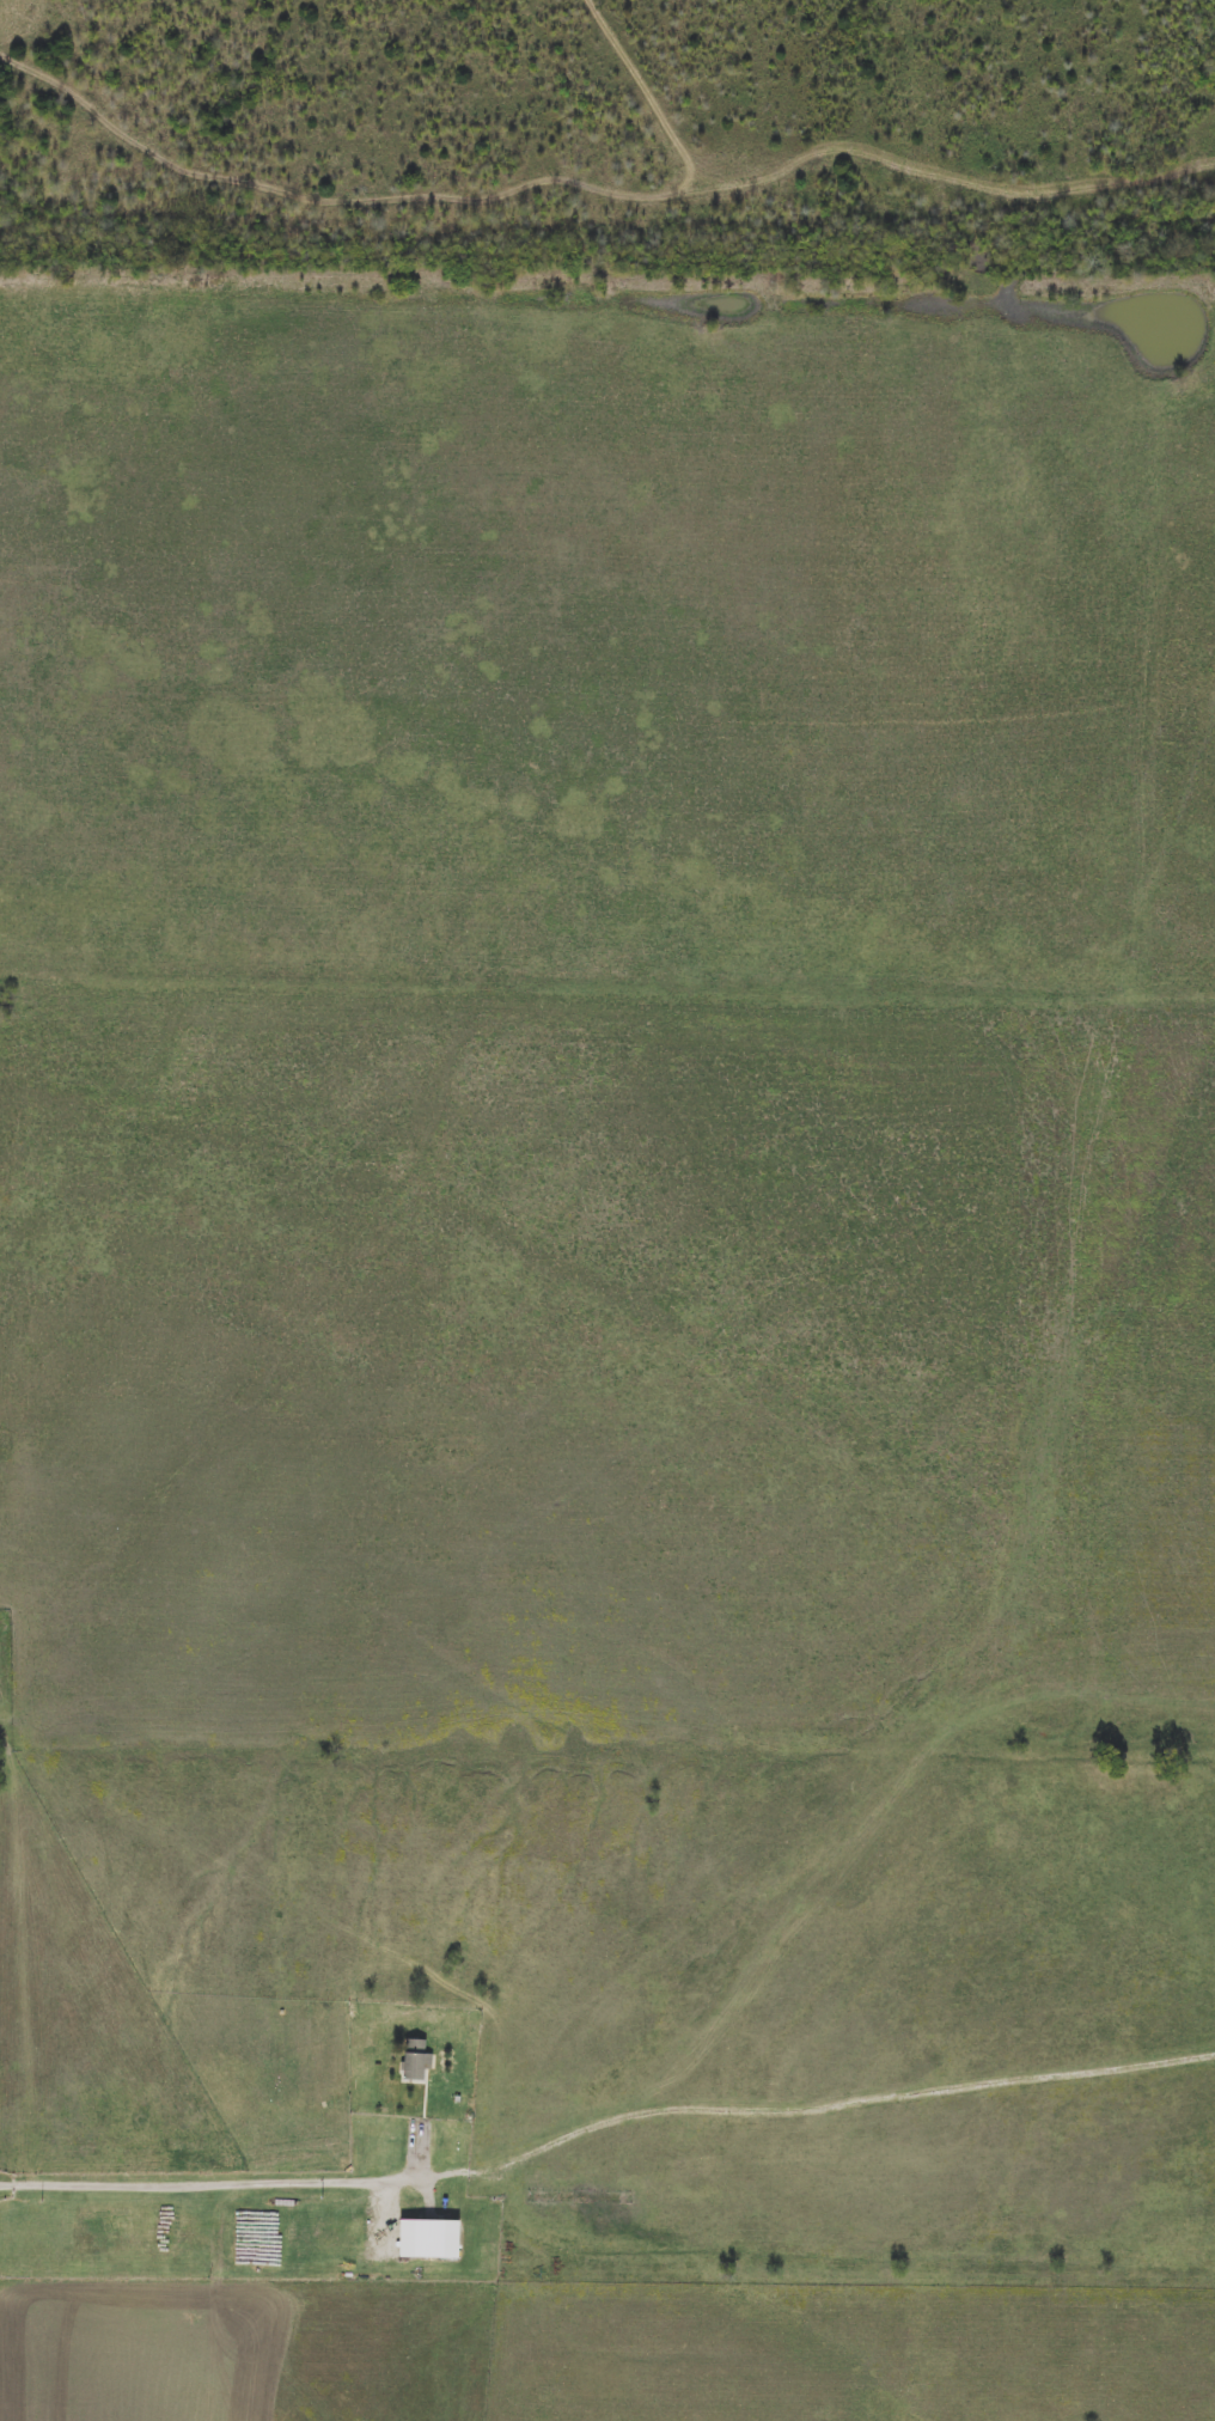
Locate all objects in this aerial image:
building: (416, 2060)
road: (216, 2184)
building: (429, 2239)

